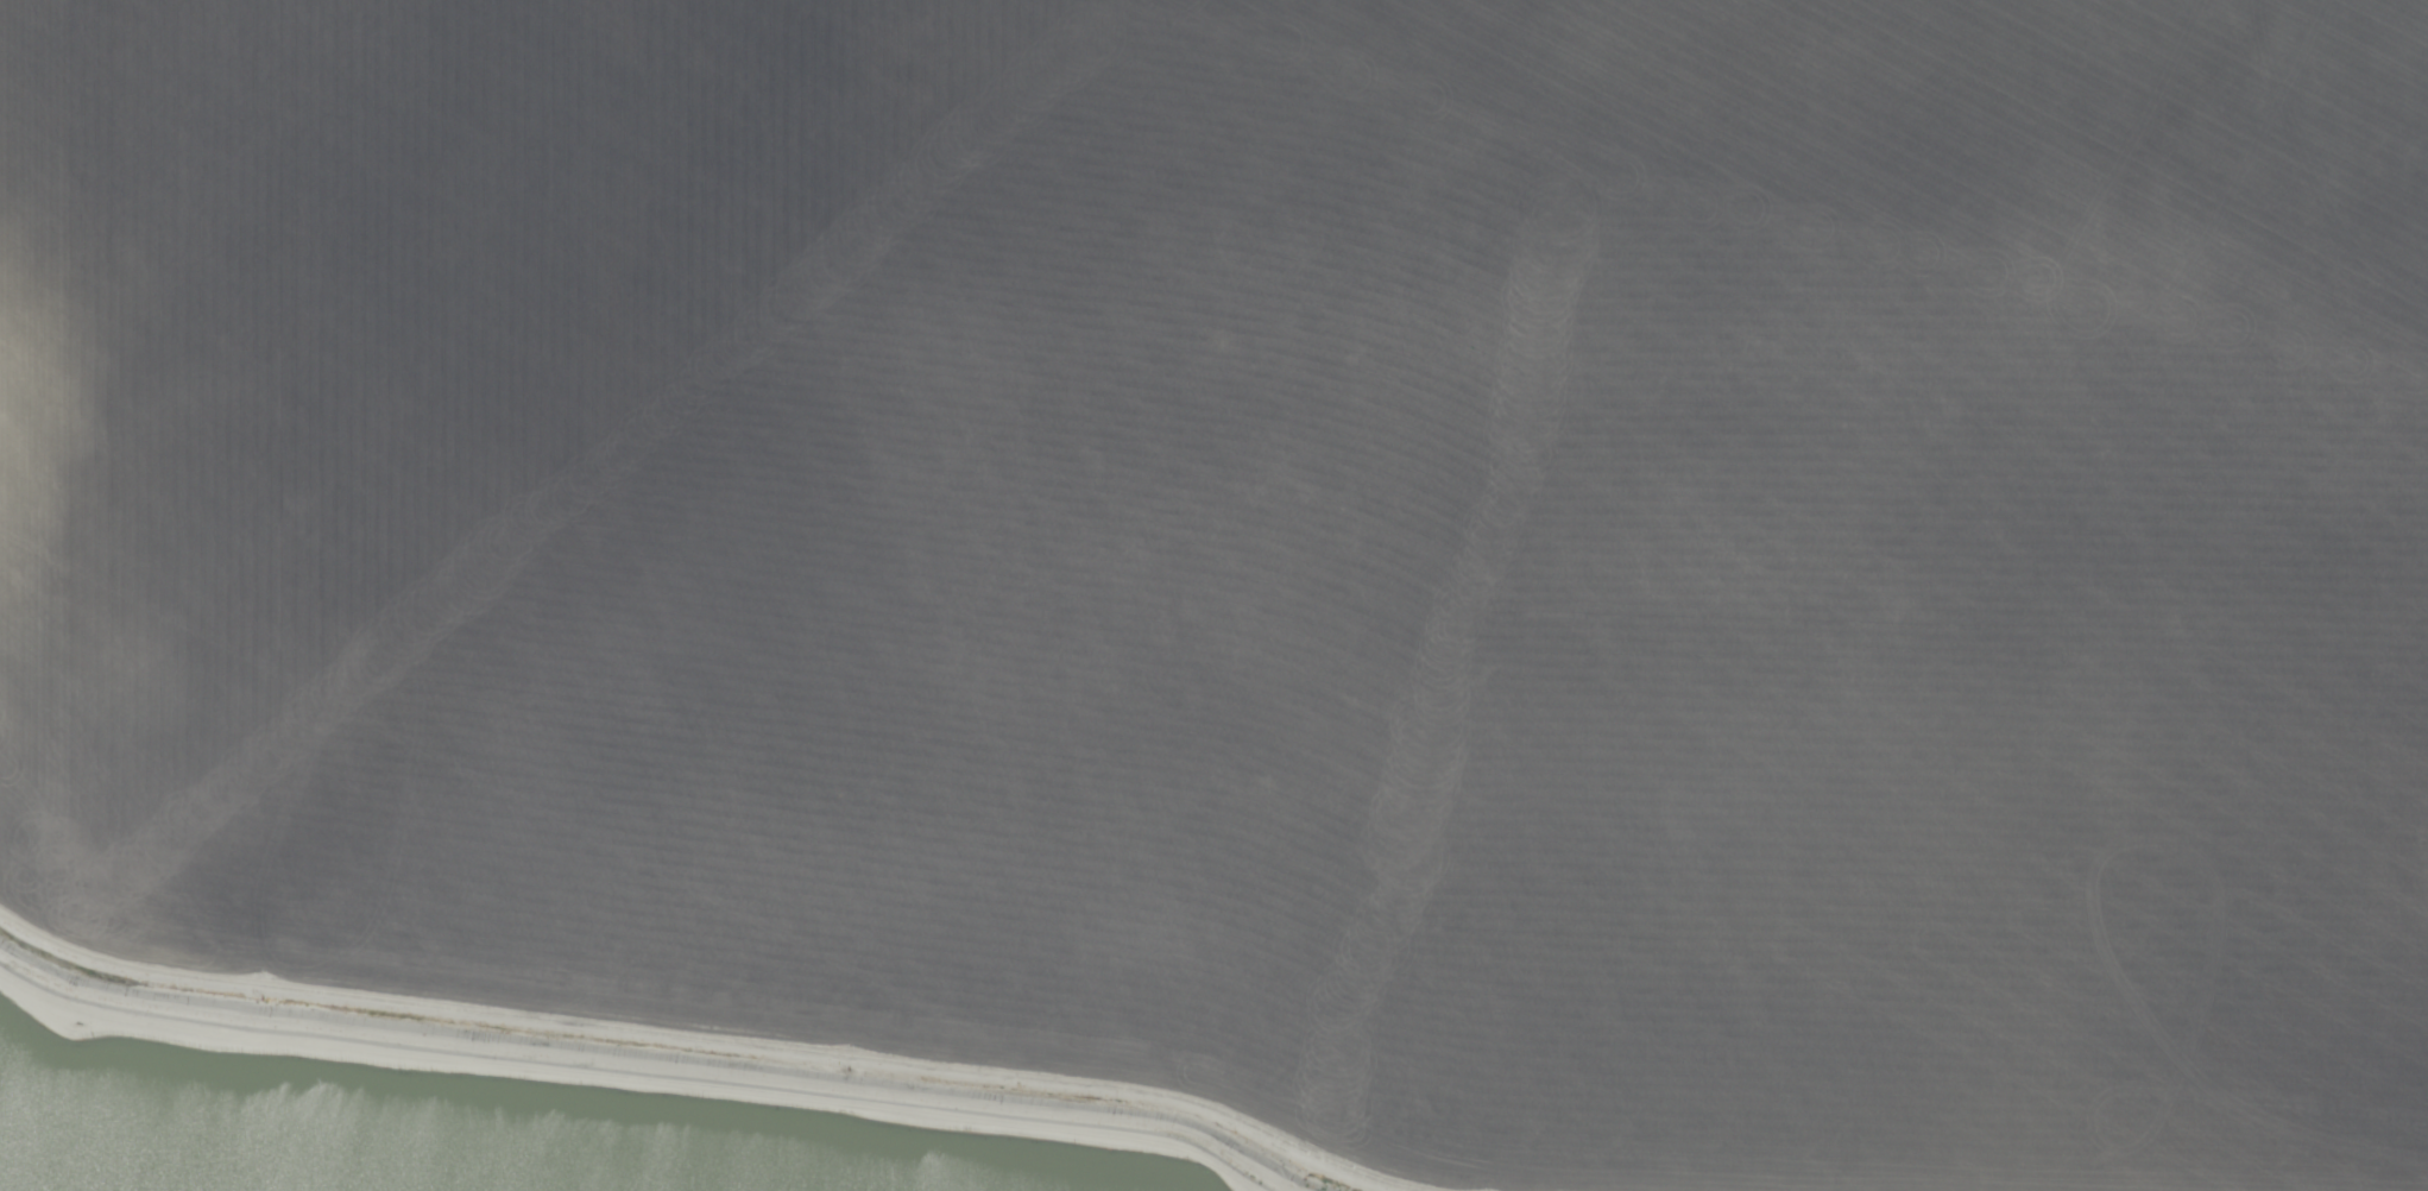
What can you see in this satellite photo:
crop: (1273, 555)

